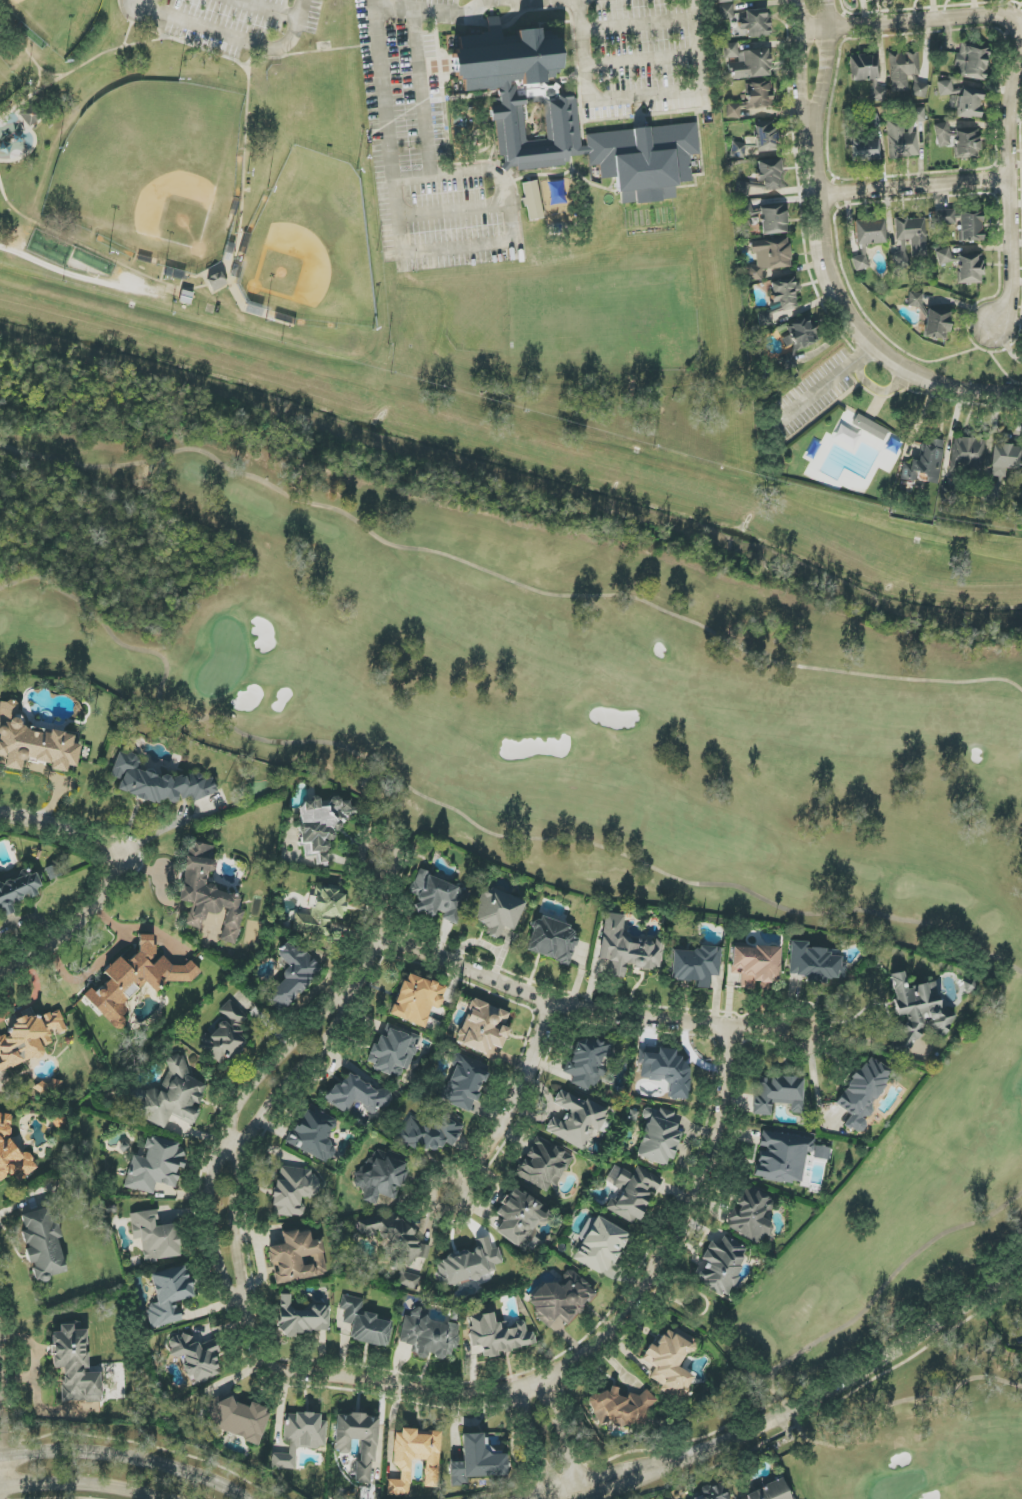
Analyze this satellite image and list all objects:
building: (724, 1)
road: (436, 9)
building: (726, 11)
road: (1011, 21)
building: (756, 23)
road: (899, 23)
road: (238, 35)
road: (695, 45)
building: (972, 61)
building: (747, 62)
road: (799, 65)
road: (825, 65)
building: (864, 68)
building: (902, 69)
building: (916, 88)
building: (877, 95)
road: (596, 99)
building: (962, 99)
building: (751, 100)
road: (423, 108)
building: (30, 114)
building: (571, 120)
building: (765, 137)
building: (900, 140)
building: (959, 141)
road: (238, 150)
building: (864, 150)
park: (196, 157)
road: (480, 170)
building: (769, 174)
road: (913, 184)
road: (1010, 192)
building: (532, 201)
road: (441, 211)
building: (945, 217)
building: (773, 220)
building: (970, 226)
building: (869, 232)
building: (912, 233)
building: (944, 255)
building: (769, 257)
building: (860, 261)
building: (970, 268)
road: (68, 274)
building: (216, 281)
building: (779, 300)
building: (915, 300)
road: (851, 318)
building: (935, 323)
building: (800, 336)
road: (827, 380)
road: (878, 389)
building: (870, 427)
building: (966, 453)
building: (1005, 459)
building: (925, 464)
building: (992, 492)
building: (33, 743)
park: (588, 780)
building: (158, 782)
building: (322, 823)
road: (113, 877)
road: (379, 882)
building: (17, 890)
building: (207, 892)
building: (439, 898)
building: (321, 912)
building: (498, 912)
building: (551, 940)
building: (627, 948)
road: (99, 963)
building: (815, 963)
building: (695, 966)
building: (755, 966)
building: (292, 975)
building: (135, 980)
building: (416, 1000)
building: (916, 1012)
road: (634, 1016)
road: (847, 1021)
building: (483, 1027)
building: (227, 1034)
building: (393, 1051)
building: (587, 1063)
building: (667, 1070)
building: (464, 1083)
building: (863, 1092)
building: (777, 1094)
building: (357, 1095)
building: (169, 1096)
building: (576, 1119)
building: (432, 1132)
building: (314, 1134)
building: (657, 1136)
road: (221, 1147)
road: (485, 1148)
road: (243, 1151)
building: (821, 1153)
building: (12, 1154)
building: (782, 1157)
building: (543, 1164)
building: (155, 1166)
building: (380, 1176)
building: (293, 1190)
building: (630, 1192)
road: (22, 1202)
building: (750, 1215)
building: (520, 1219)
building: (155, 1236)
road: (669, 1241)
building: (42, 1244)
building: (397, 1244)
building: (600, 1246)
building: (297, 1258)
building: (468, 1264)
building: (721, 1266)
building: (169, 1295)
building: (561, 1299)
building: (302, 1317)
building: (364, 1323)
building: (428, 1335)
building: (498, 1335)
building: (196, 1357)
building: (670, 1362)
building: (74, 1366)
road: (851, 1377)
road: (376, 1383)
building: (620, 1408)
building: (238, 1419)
road: (2, 1424)
building: (300, 1437)
building: (358, 1440)
road: (562, 1441)
road: (536, 1446)
road: (125, 1458)
building: (414, 1459)
building: (477, 1460)
road: (598, 1477)
road: (621, 1481)
road: (87, 1484)
building: (771, 1491)
building: (715, 1492)

